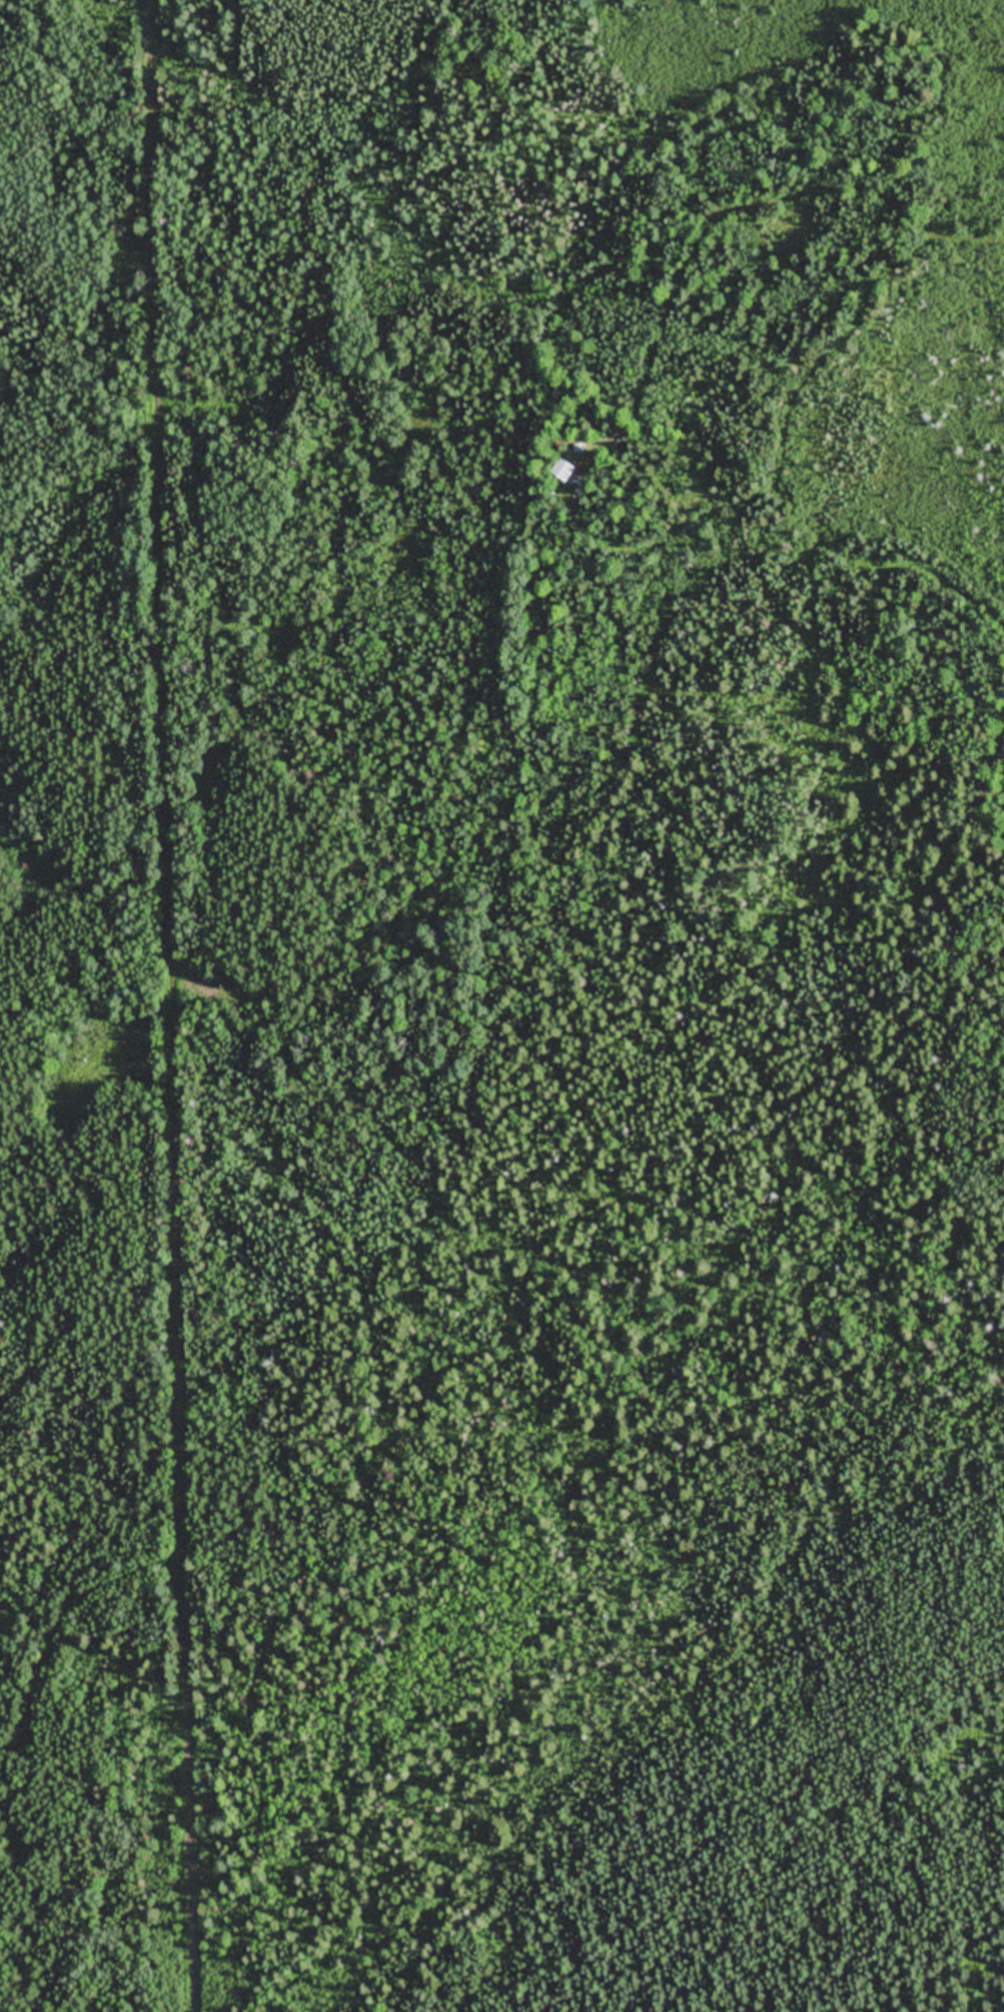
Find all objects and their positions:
road: (909, 354)
road: (751, 373)
building: (563, 471)

